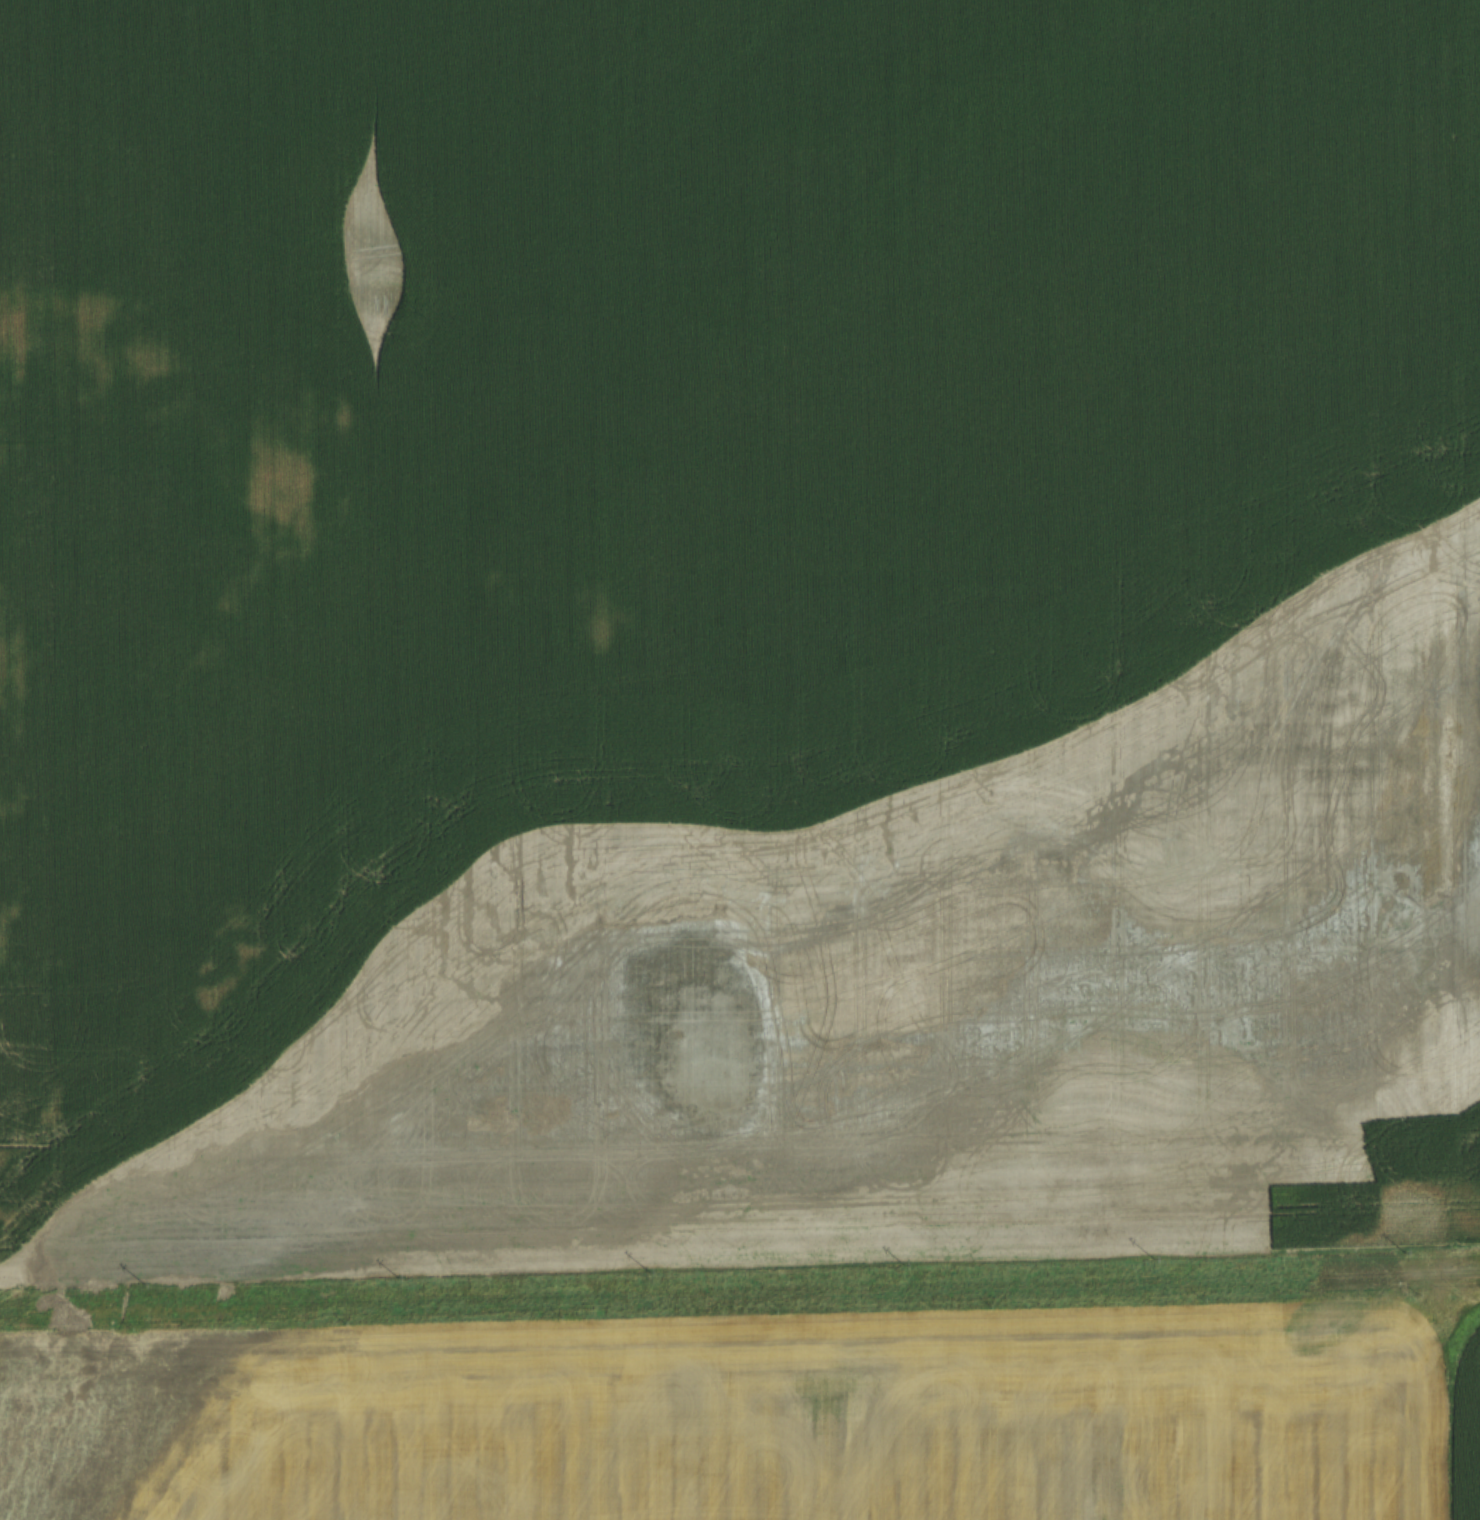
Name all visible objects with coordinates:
road: (739, 1287)

